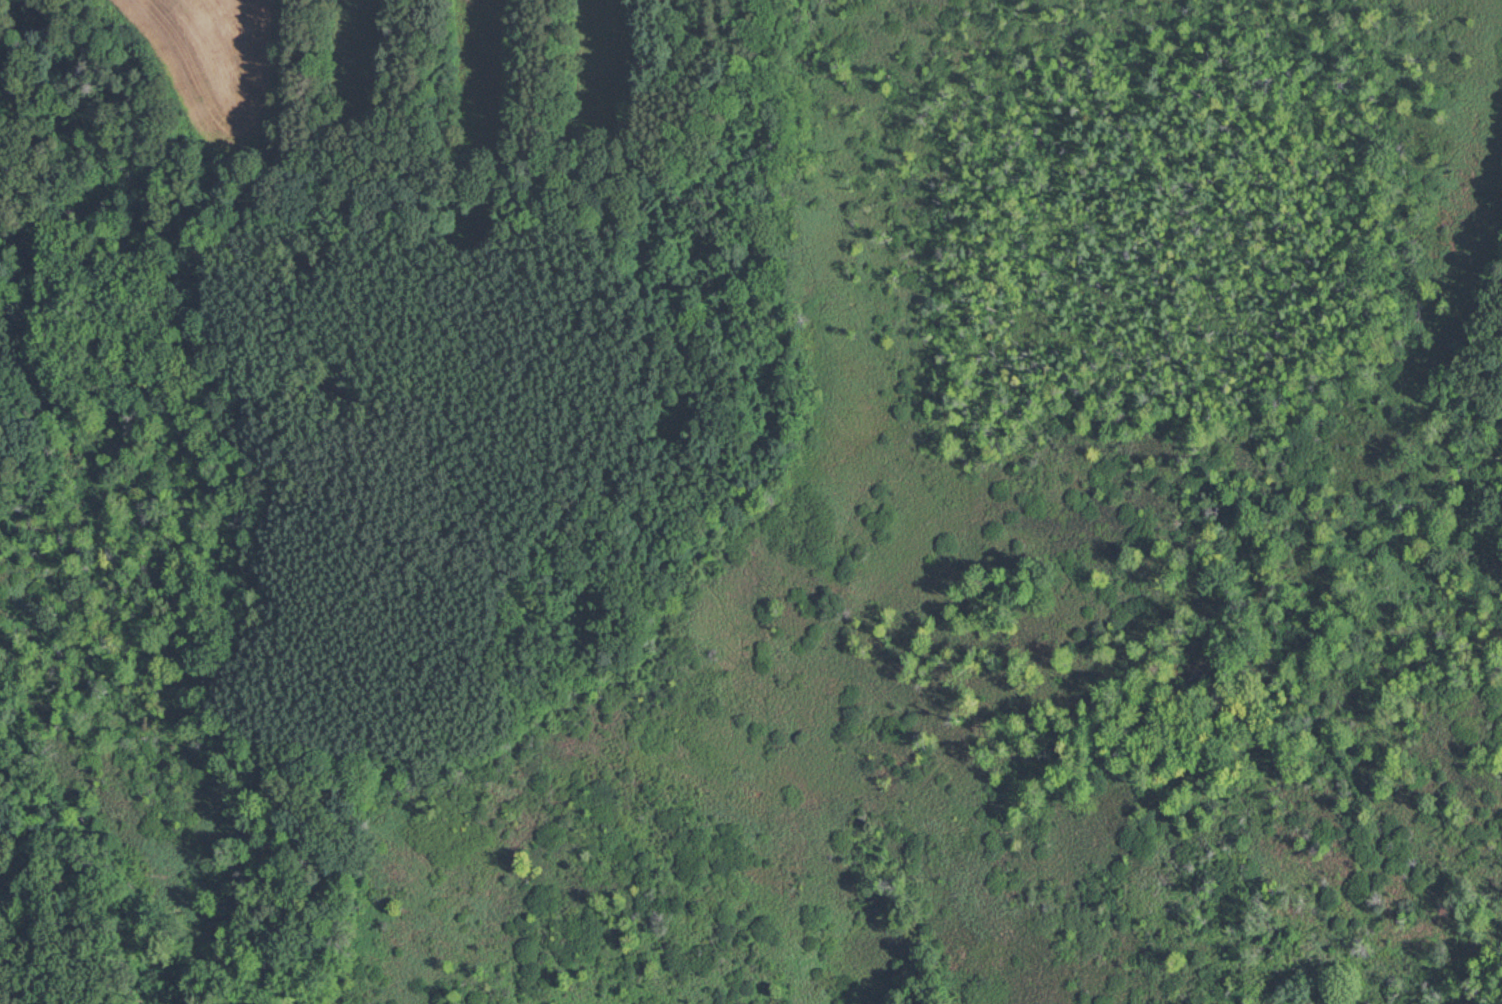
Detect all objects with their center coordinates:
road: (6, 93)

